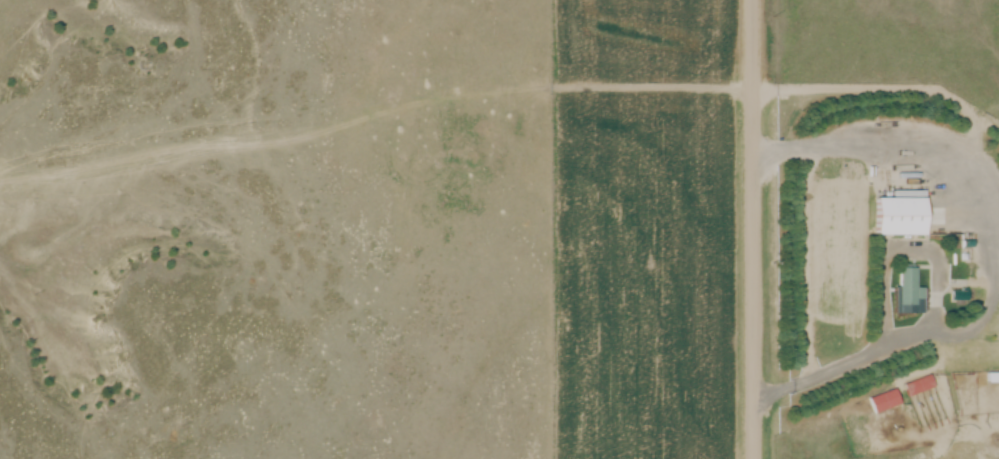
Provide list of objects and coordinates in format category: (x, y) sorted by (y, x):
building: (897, 216)
road: (753, 229)
building: (906, 285)
road: (851, 362)

